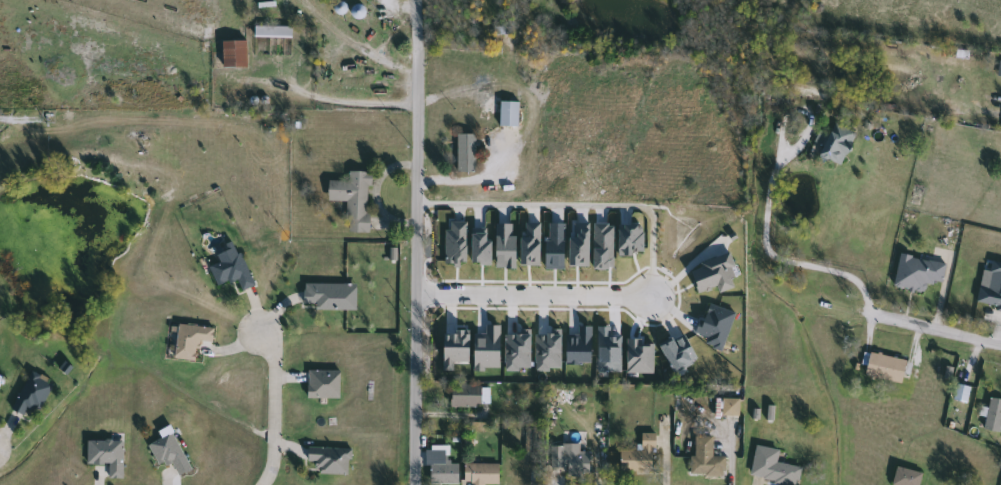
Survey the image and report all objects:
building: (355, 12)
building: (270, 31)
building: (232, 54)
road: (329, 101)
building: (506, 113)
building: (832, 145)
building: (463, 153)
building: (351, 199)
road: (576, 205)
road: (417, 242)
road: (778, 257)
building: (230, 272)
building: (915, 272)
building: (989, 287)
road: (533, 295)
building: (328, 296)
building: (464, 296)
road: (934, 328)
building: (188, 339)
building: (882, 368)
building: (321, 383)
building: (959, 393)
building: (30, 394)
building: (467, 395)
road: (274, 407)
building: (992, 415)
building: (531, 436)
building: (167, 453)
building: (105, 456)
building: (637, 456)
building: (704, 457)
building: (567, 458)
building: (326, 460)
building: (439, 467)
building: (771, 467)
building: (479, 474)
building: (904, 477)

